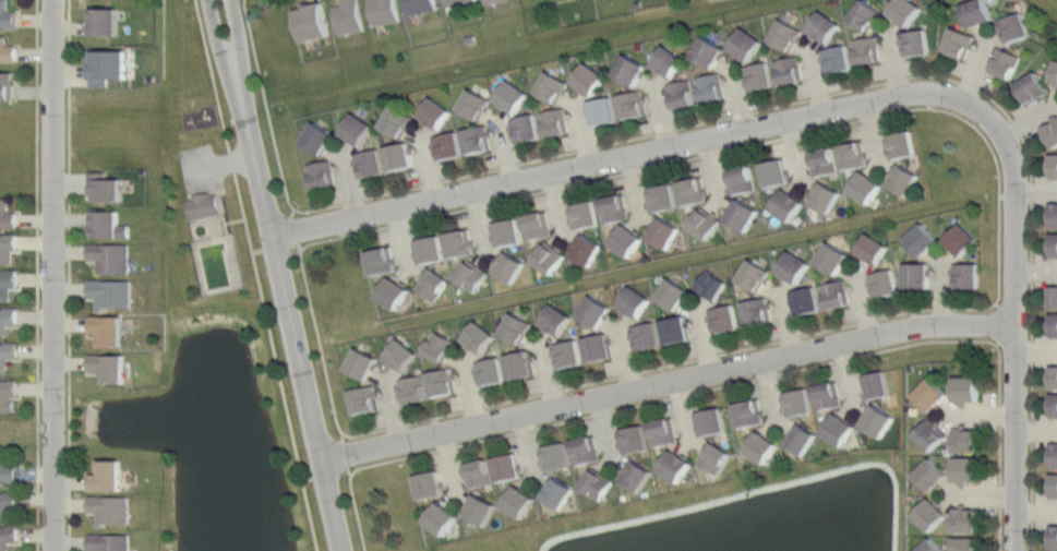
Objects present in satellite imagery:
building: (491, 1)
building: (456, 2)
building: (420, 5)
building: (905, 10)
building: (385, 12)
building: (977, 12)
building: (867, 14)
building: (7, 15)
building: (348, 16)
building: (105, 21)
building: (312, 22)
building: (824, 25)
building: (1014, 27)
building: (785, 33)
building: (915, 41)
building: (745, 43)
building: (958, 43)
building: (866, 48)
building: (8, 51)
building: (709, 51)
building: (836, 57)
building: (668, 60)
building: (1005, 62)
building: (107, 67)
building: (630, 69)
building: (789, 69)
building: (1054, 73)
building: (759, 74)
road: (212, 75)
building: (590, 77)
building: (7, 85)
building: (553, 85)
building: (710, 86)
building: (1032, 87)
building: (681, 94)
building: (512, 95)
building: (475, 103)
building: (632, 104)
road: (766, 107)
building: (603, 109)
building: (434, 112)
building: (397, 121)
building: (555, 121)
building: (526, 127)
building: (357, 129)
building: (1052, 132)
building: (319, 137)
building: (477, 139)
building: (901, 143)
building: (448, 144)
building: (852, 155)
building: (399, 156)
road: (628, 158)
road: (236, 159)
road: (230, 160)
building: (822, 160)
building: (370, 163)
building: (1054, 165)
road: (202, 168)
parking lot: (199, 169)
building: (774, 171)
building: (321, 173)
building: (903, 178)
building: (741, 179)
building: (105, 187)
building: (865, 187)
park: (216, 191)
building: (692, 191)
fountain: (392, 192)
building: (663, 196)
building: (826, 196)
building: (786, 204)
building: (204, 205)
building: (615, 208)
building: (587, 213)
building: (7, 214)
building: (743, 214)
building: (1054, 215)
road: (235, 220)
building: (107, 221)
building: (705, 223)
building: (537, 225)
building: (508, 231)
building: (664, 231)
building: (922, 239)
building: (961, 239)
building: (627, 240)
building: (459, 242)
building: (1054, 244)
building: (8, 247)
building: (872, 248)
building: (430, 249)
building: (587, 250)
building: (111, 255)
building: (549, 257)
building: (832, 257)
building: (381, 261)
building: (508, 266)
building: (793, 266)
road: (37, 275)
road: (56, 275)
road: (69, 275)
road: (283, 275)
building: (471, 275)
building: (754, 275)
building: (915, 275)
building: (966, 275)
building: (885, 282)
building: (7, 283)
building: (433, 284)
building: (711, 285)
road: (998, 287)
building: (110, 291)
building: (394, 292)
building: (672, 292)
building: (834, 292)
building: (1054, 296)
building: (805, 299)
building: (634, 301)
building: (757, 310)
building: (594, 312)
building: (8, 318)
building: (723, 318)
building: (555, 320)
road: (1016, 325)
building: (1054, 325)
building: (516, 327)
building: (106, 328)
building: (674, 330)
building: (646, 336)
building: (478, 337)
building: (437, 346)
building: (598, 347)
building: (568, 352)
building: (7, 354)
building: (400, 354)
road: (275, 360)
building: (361, 362)
building: (519, 363)
building: (109, 366)
building: (491, 370)
building: (1054, 374)
building: (442, 382)
road: (670, 383)
road: (734, 383)
building: (875, 384)
building: (965, 387)
building: (413, 388)
building: (8, 394)
building: (930, 394)
building: (826, 395)
building: (364, 399)
building: (796, 402)
building: (1054, 405)
building: (747, 412)
building: (711, 420)
building: (878, 420)
building: (838, 428)
building: (662, 431)
building: (930, 434)
building: (800, 438)
building: (634, 439)
building: (966, 439)
building: (760, 445)
building: (585, 450)
building: (1054, 455)
building: (555, 456)
building: (713, 457)
building: (674, 465)
building: (507, 466)
building: (8, 468)
building: (966, 468)
building: (478, 472)
building: (930, 474)
building: (635, 475)
building: (107, 476)
building: (429, 483)
building: (597, 483)
building: (1054, 484)
building: (560, 492)
building: (8, 501)
building: (519, 501)
building: (111, 508)
building: (480, 510)
building: (930, 514)
building: (441, 517)
building: (965, 518)
building: (8, 537)
building: (1054, 537)
building: (109, 541)
building: (966, 543)
building: (929, 546)

